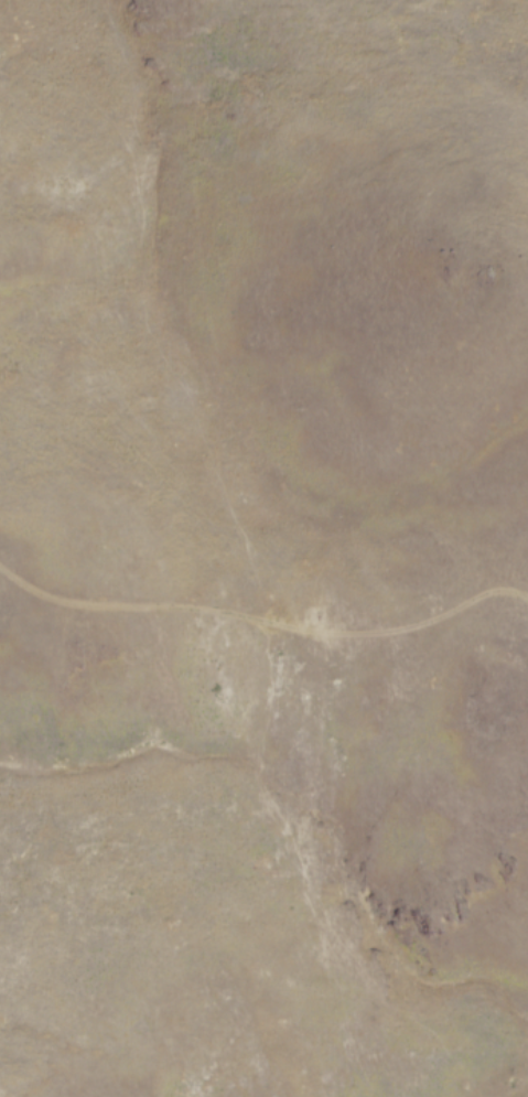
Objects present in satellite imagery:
road: (262, 621)

